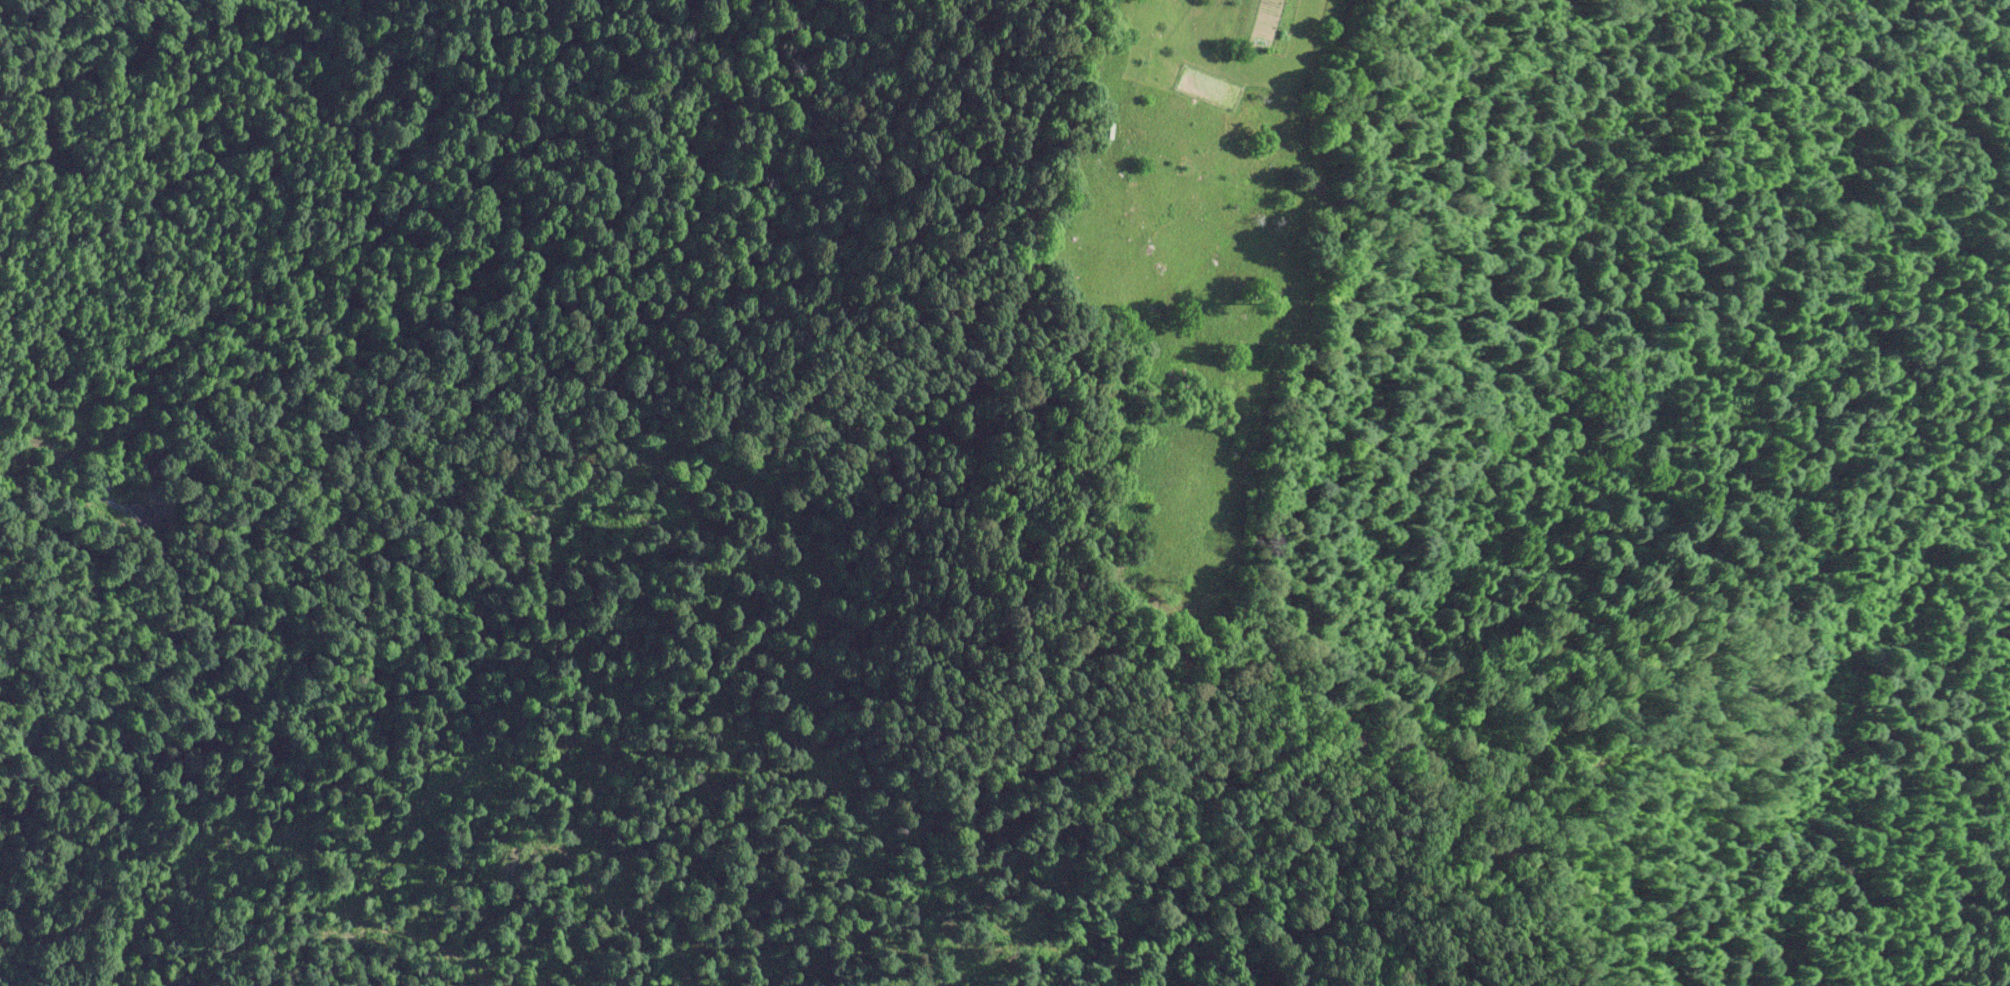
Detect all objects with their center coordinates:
road: (1251, 547)

